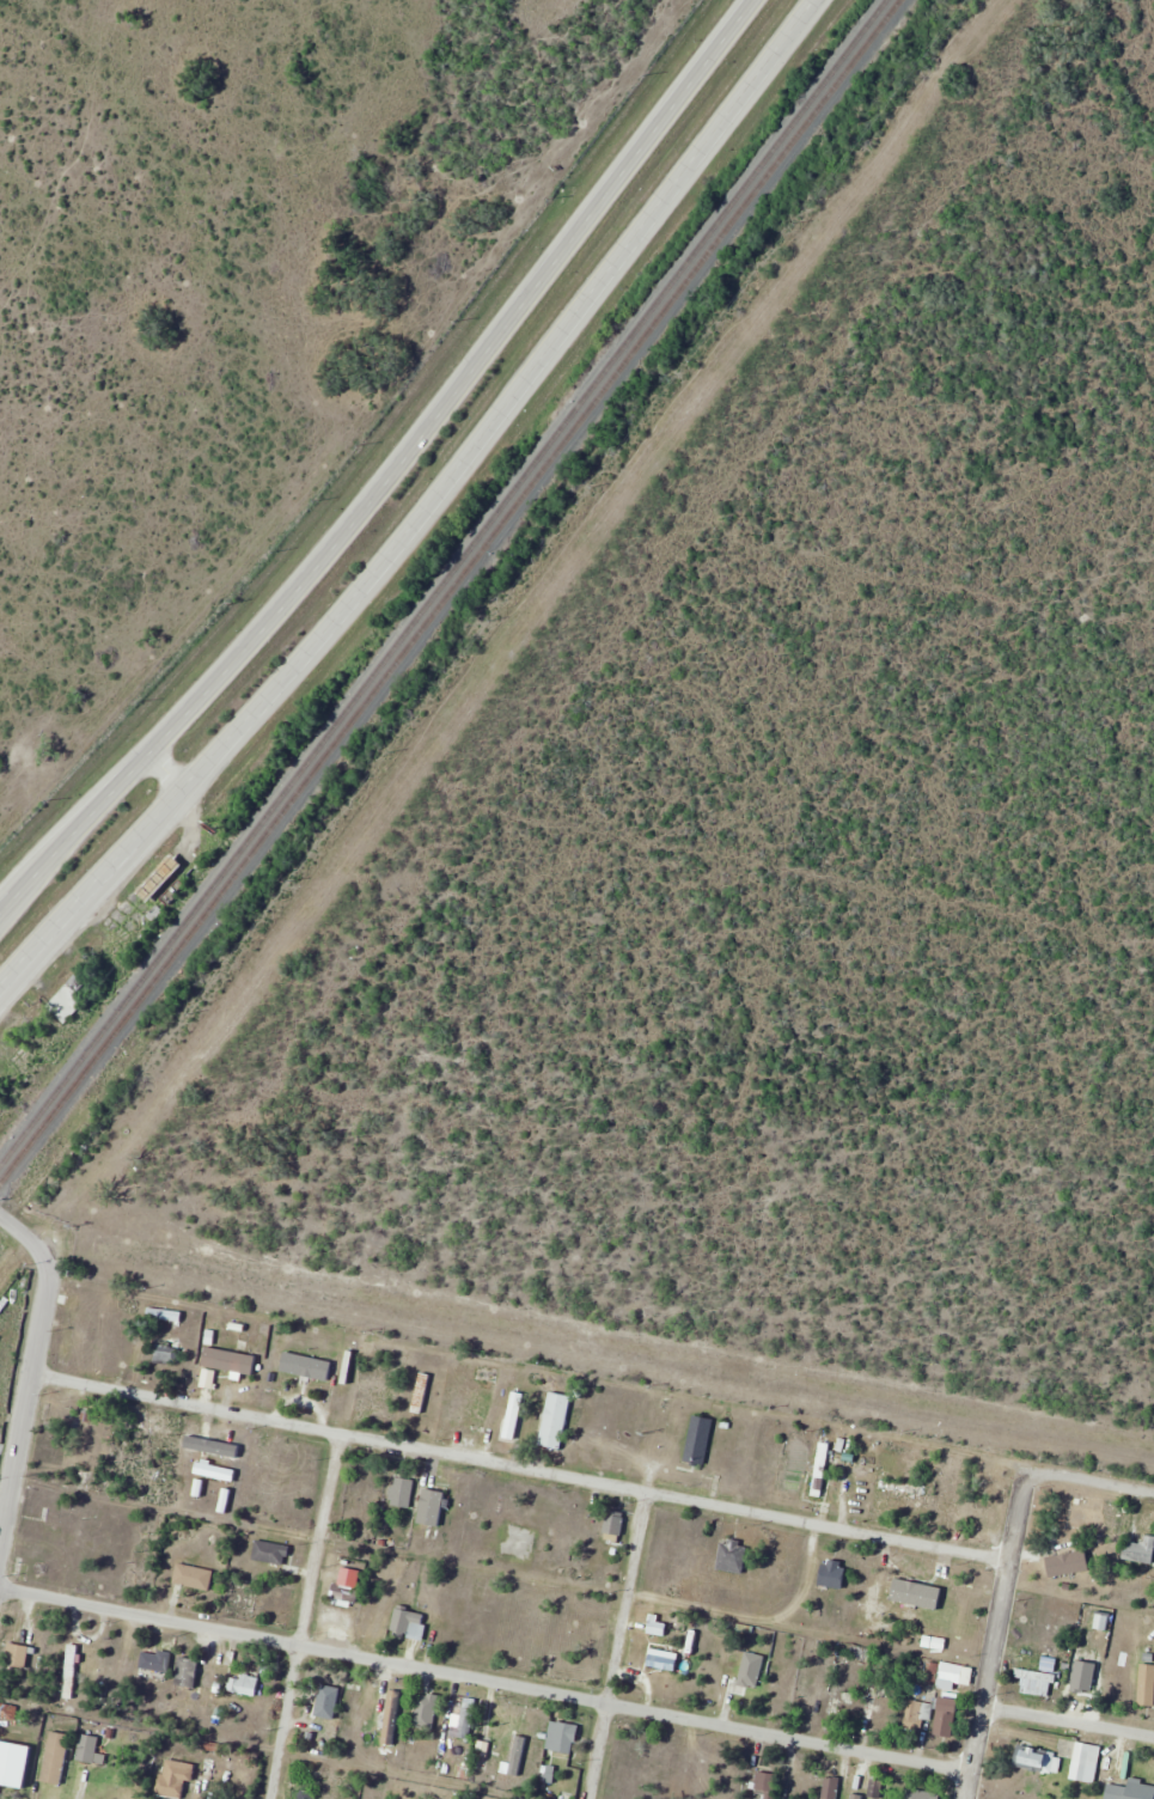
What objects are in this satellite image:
road: (391, 469)
road: (436, 514)
railway: (441, 581)
railway: (450, 590)
road: (164, 774)
building: (159, 878)
building: (69, 1001)
road: (29, 1234)
building: (165, 1315)
building: (165, 1352)
building: (220, 1360)
building: (300, 1367)
road: (24, 1396)
building: (556, 1420)
building: (698, 1440)
road: (518, 1468)
building: (820, 1469)
road: (1089, 1480)
building: (898, 1487)
building: (402, 1492)
building: (436, 1512)
building: (1100, 1516)
building: (989, 1517)
building: (62, 1519)
building: (615, 1526)
building: (1140, 1550)
building: (270, 1553)
building: (733, 1556)
building: (1068, 1563)
building: (834, 1574)
building: (193, 1577)
building: (904, 1591)
building: (346, 1593)
building: (940, 1609)
road: (305, 1616)
building: (1056, 1622)
building: (409, 1623)
building: (574, 1632)
road: (994, 1633)
road: (615, 1645)
building: (17, 1657)
building: (155, 1661)
building: (71, 1671)
building: (743, 1672)
building: (954, 1675)
building: (1082, 1675)
building: (1038, 1676)
road: (484, 1678)
building: (1147, 1684)
building: (244, 1685)
building: (326, 1685)
building: (844, 1709)
building: (431, 1710)
building: (7, 1712)
building: (920, 1712)
building: (946, 1716)
road: (1068, 1721)
building: (464, 1722)
building: (312, 1726)
building: (566, 1738)
building: (88, 1749)
building: (1087, 1755)
building: (1036, 1760)
building: (8, 1763)
building: (25, 1767)
building: (208, 1767)
building: (306, 1773)
building: (176, 1779)
building: (764, 1783)
building: (879, 1788)
building: (1131, 1791)
building: (309, 1794)
building: (920, 1794)

